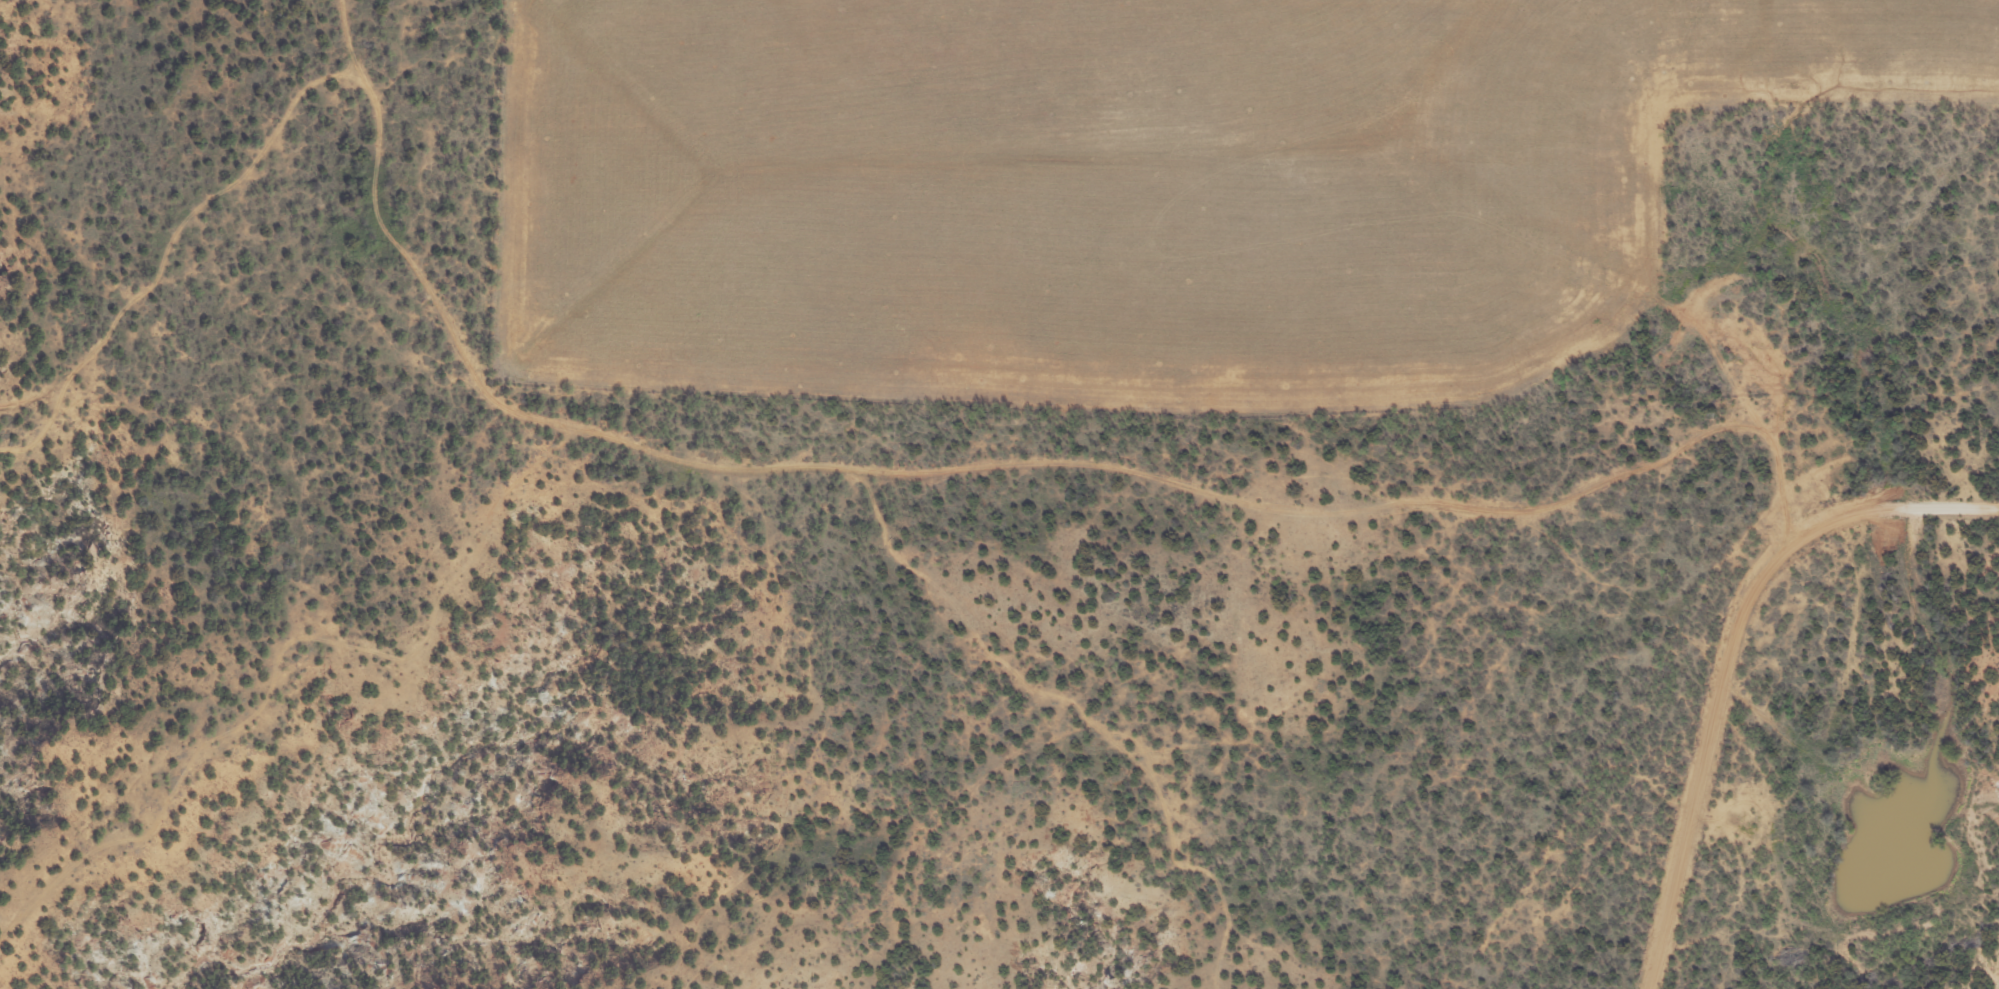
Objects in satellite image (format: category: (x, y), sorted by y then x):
road: (1731, 655)

